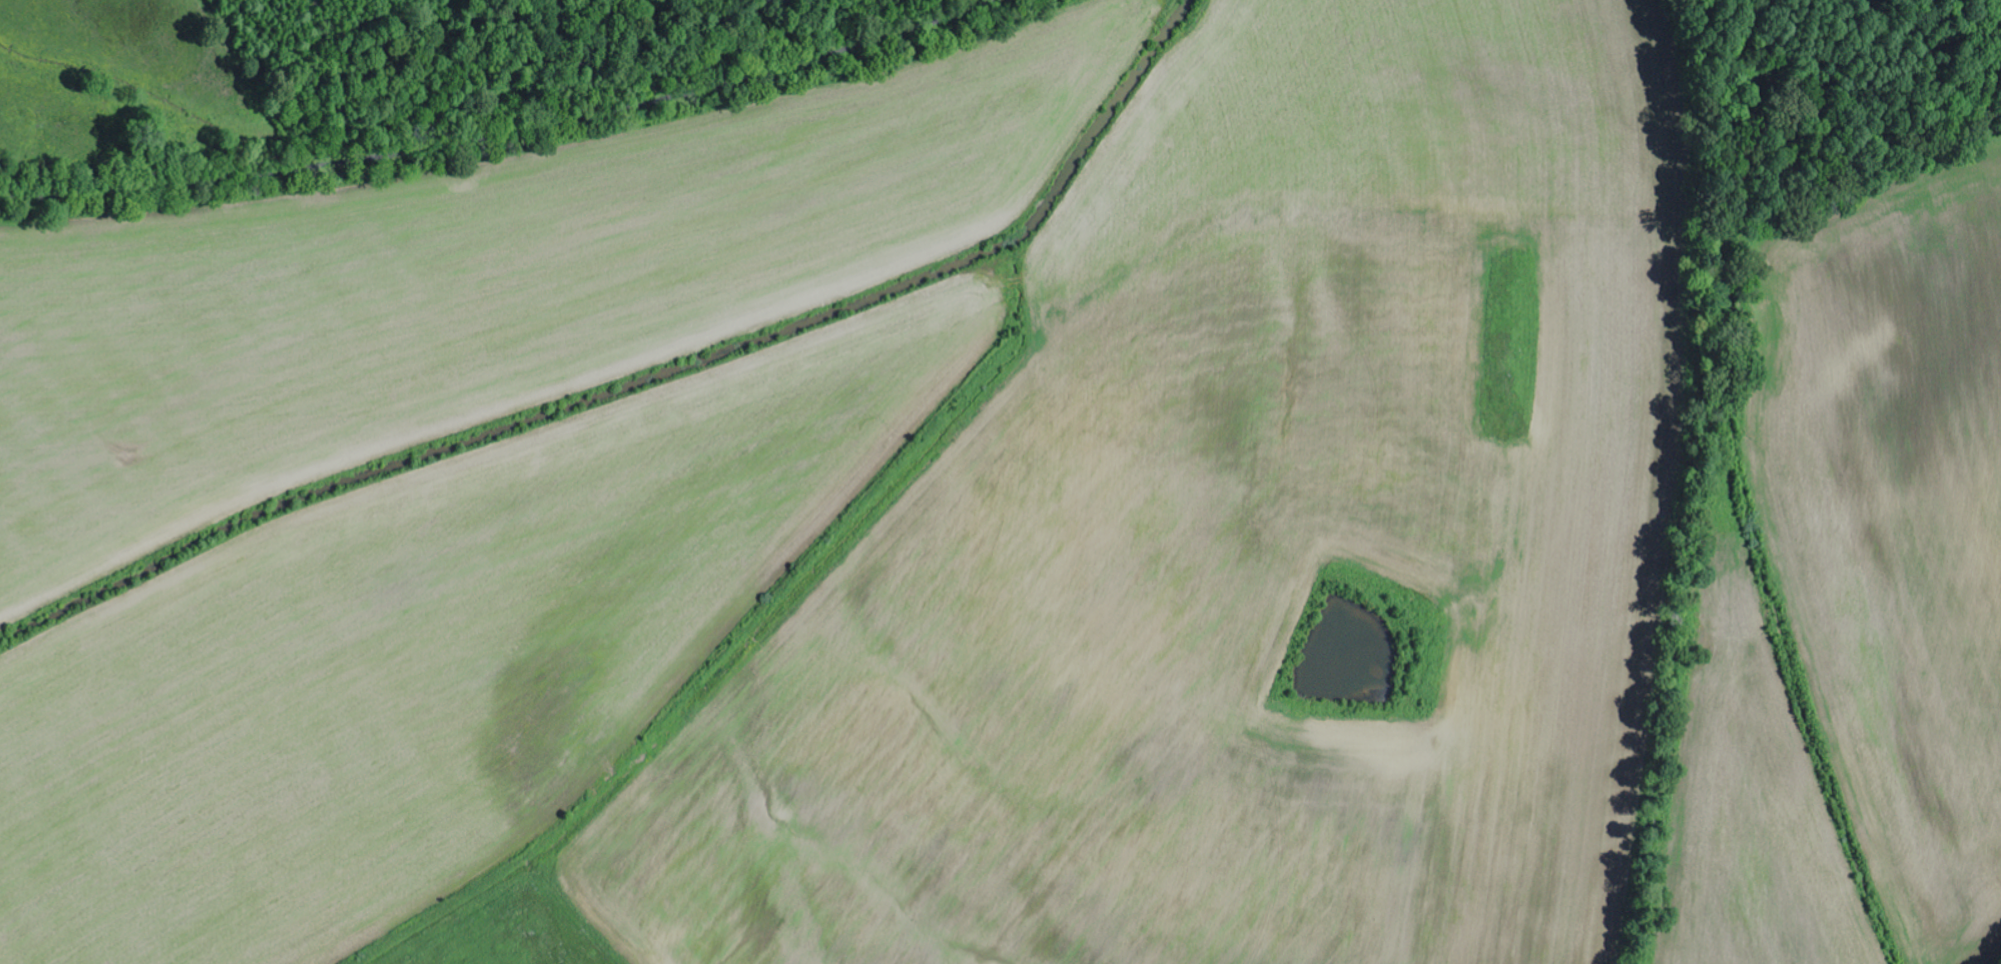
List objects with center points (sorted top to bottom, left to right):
road: (430, 117)
railway: (544, 131)

